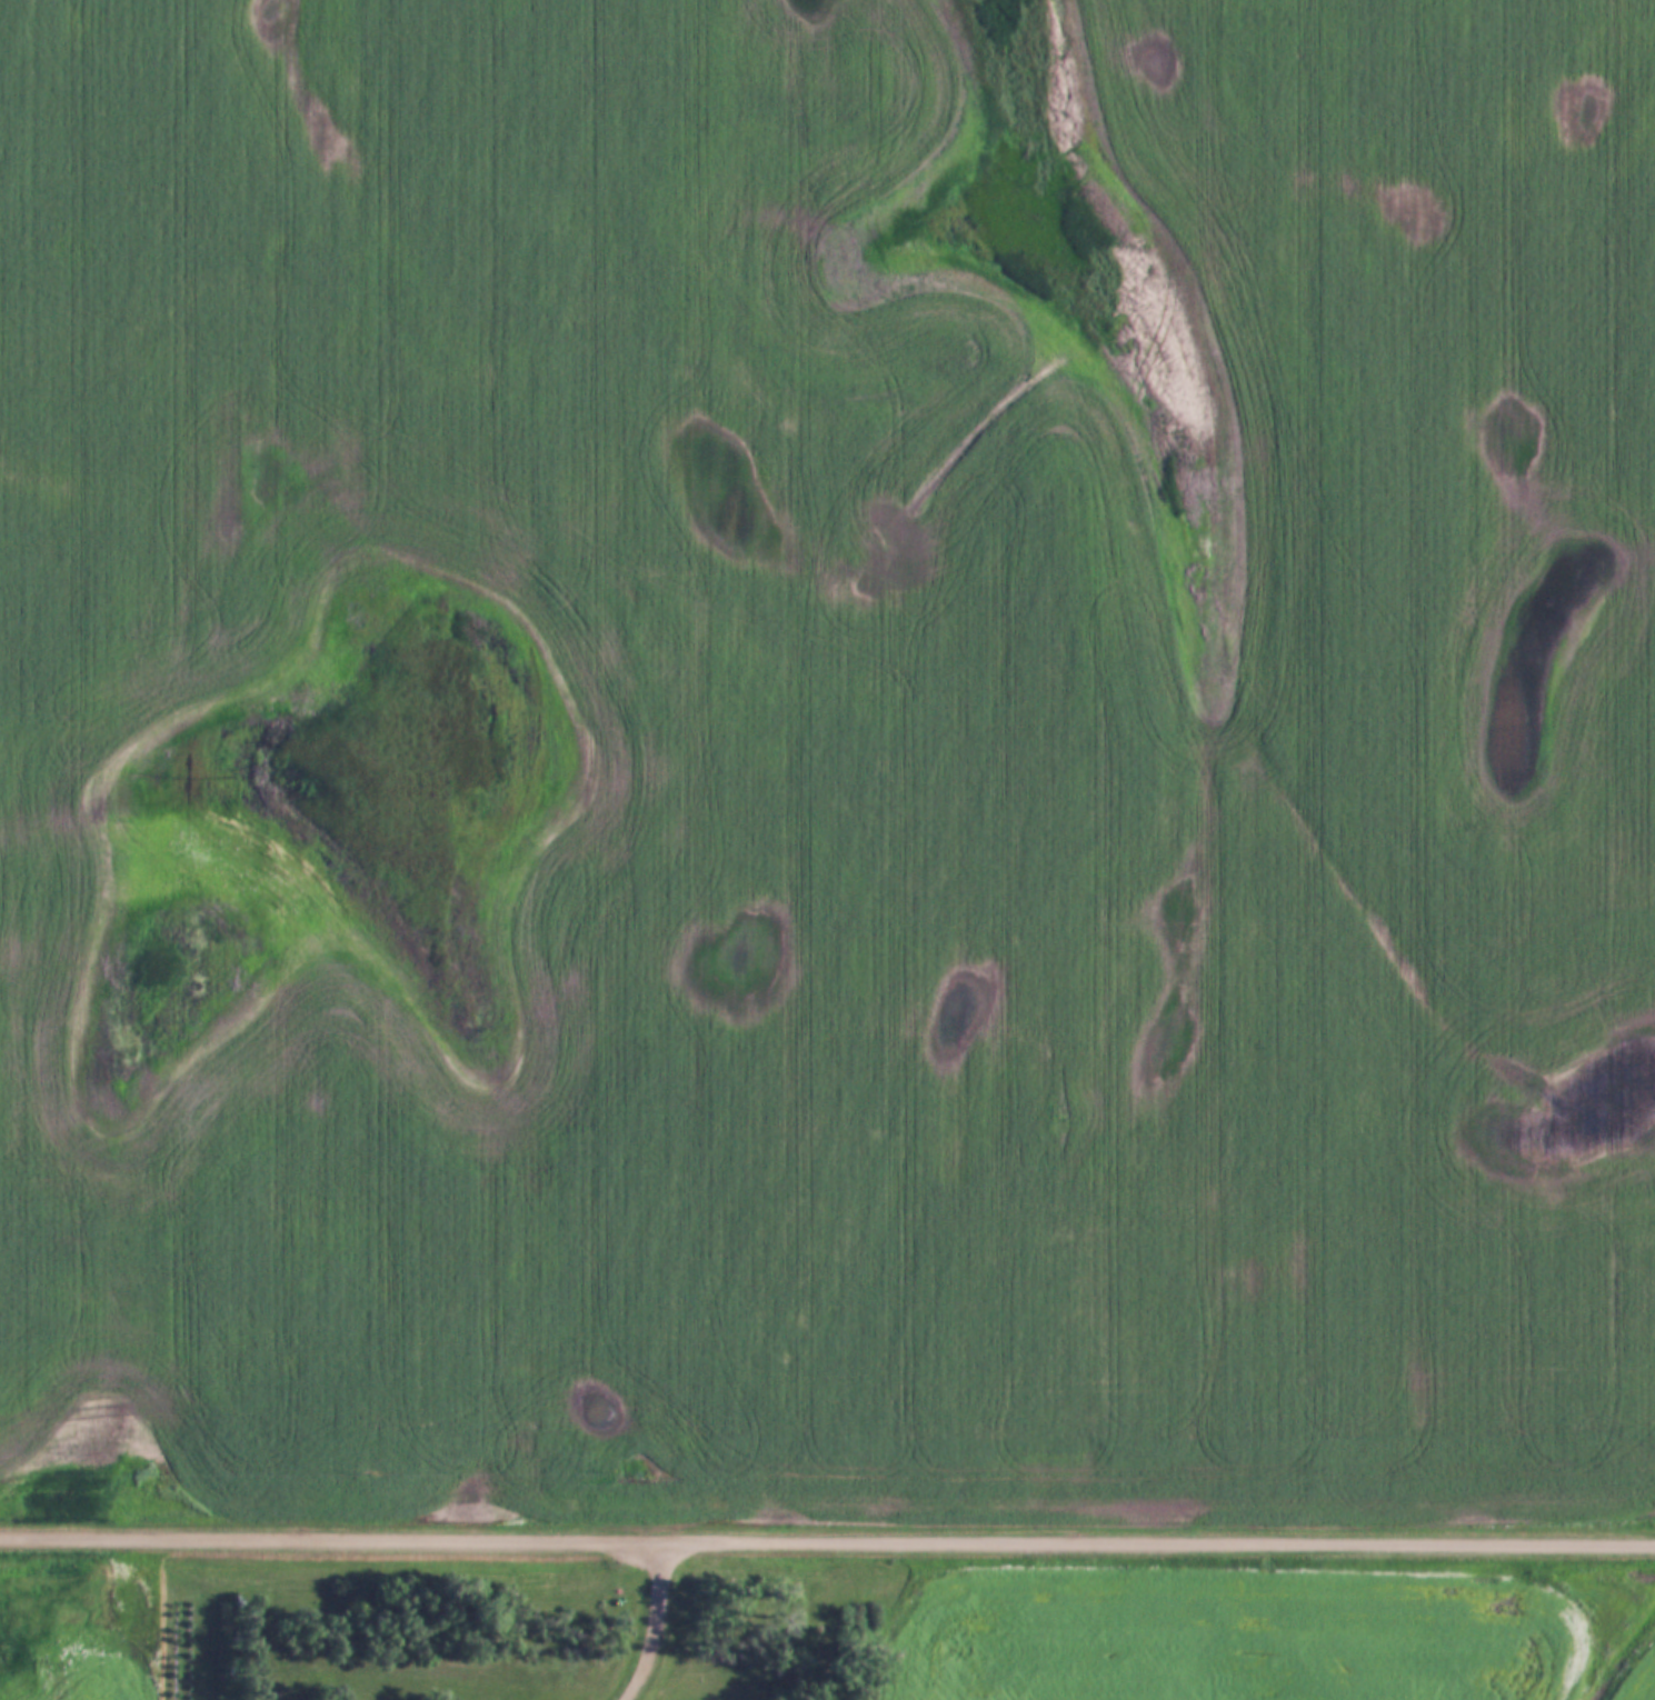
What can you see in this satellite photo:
road: (827, 1544)
road: (654, 1626)

